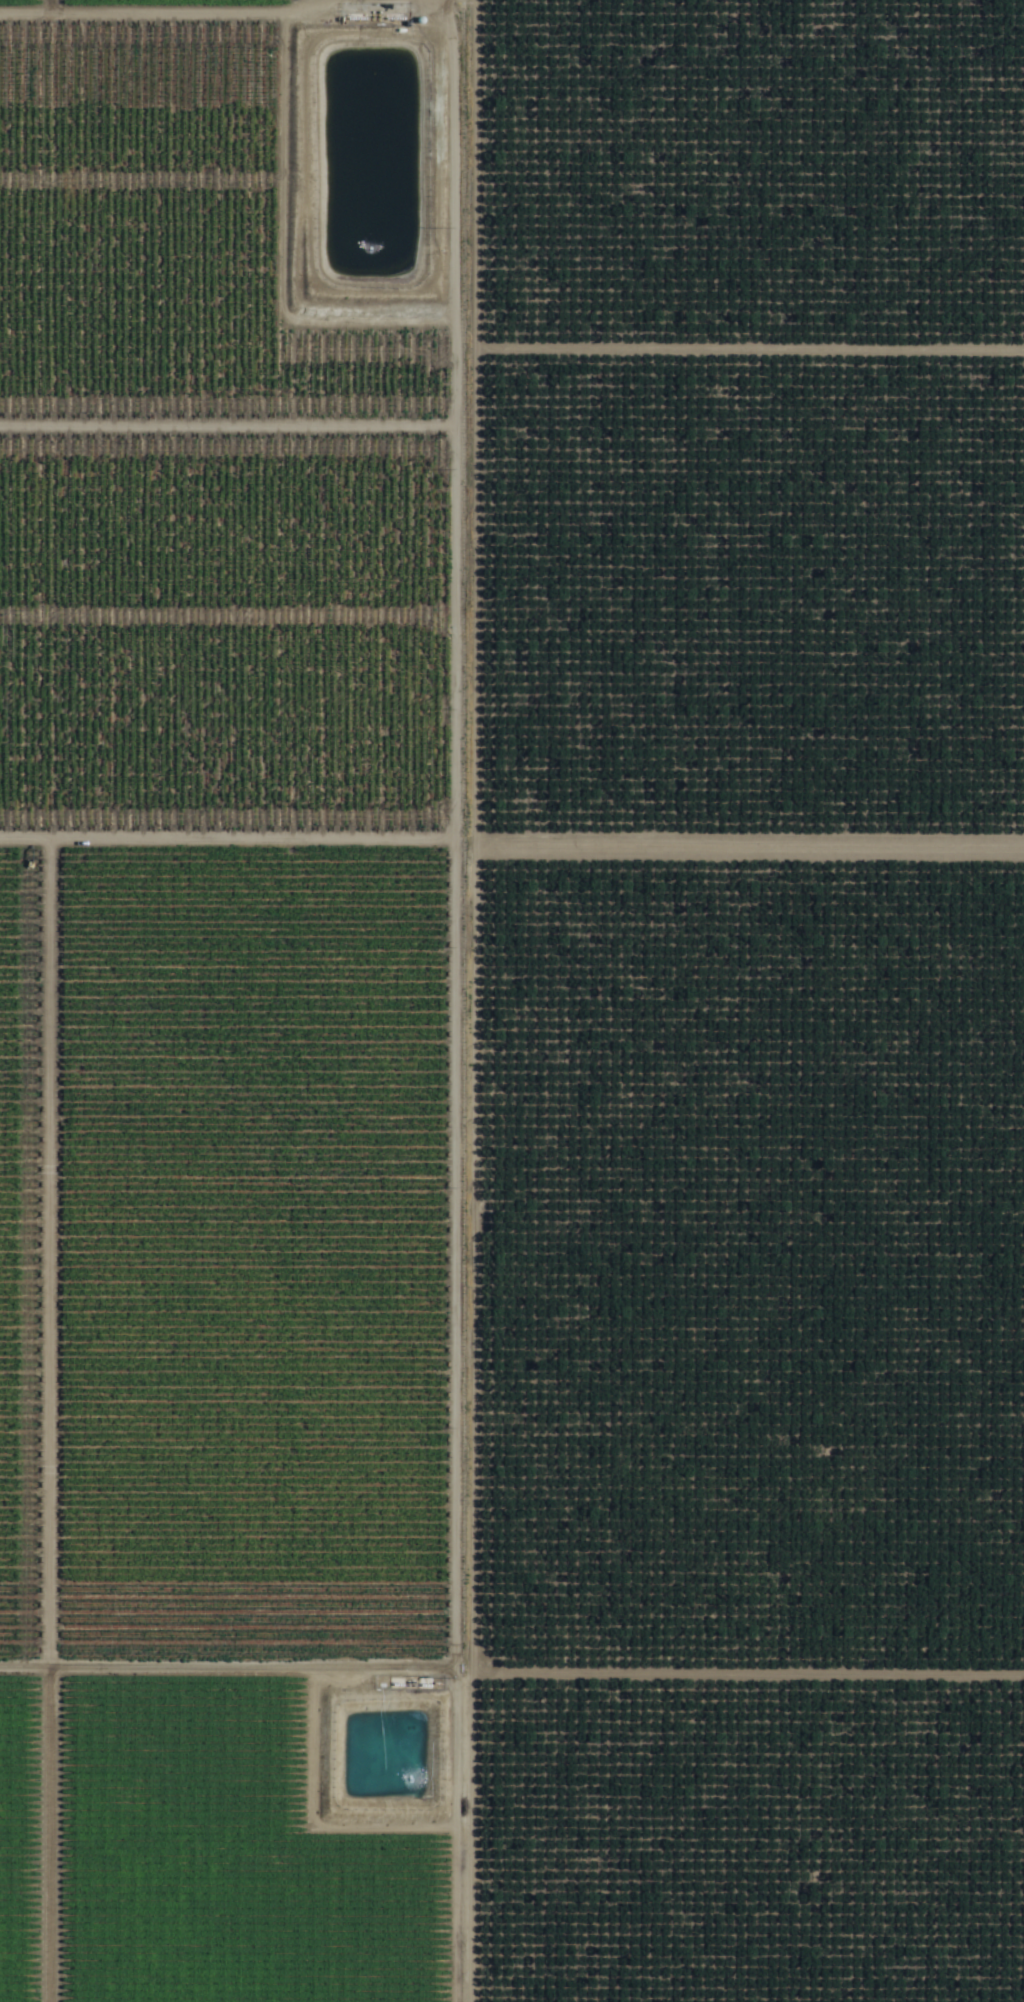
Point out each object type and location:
road: (474, 1000)
crop: (242, 1001)

